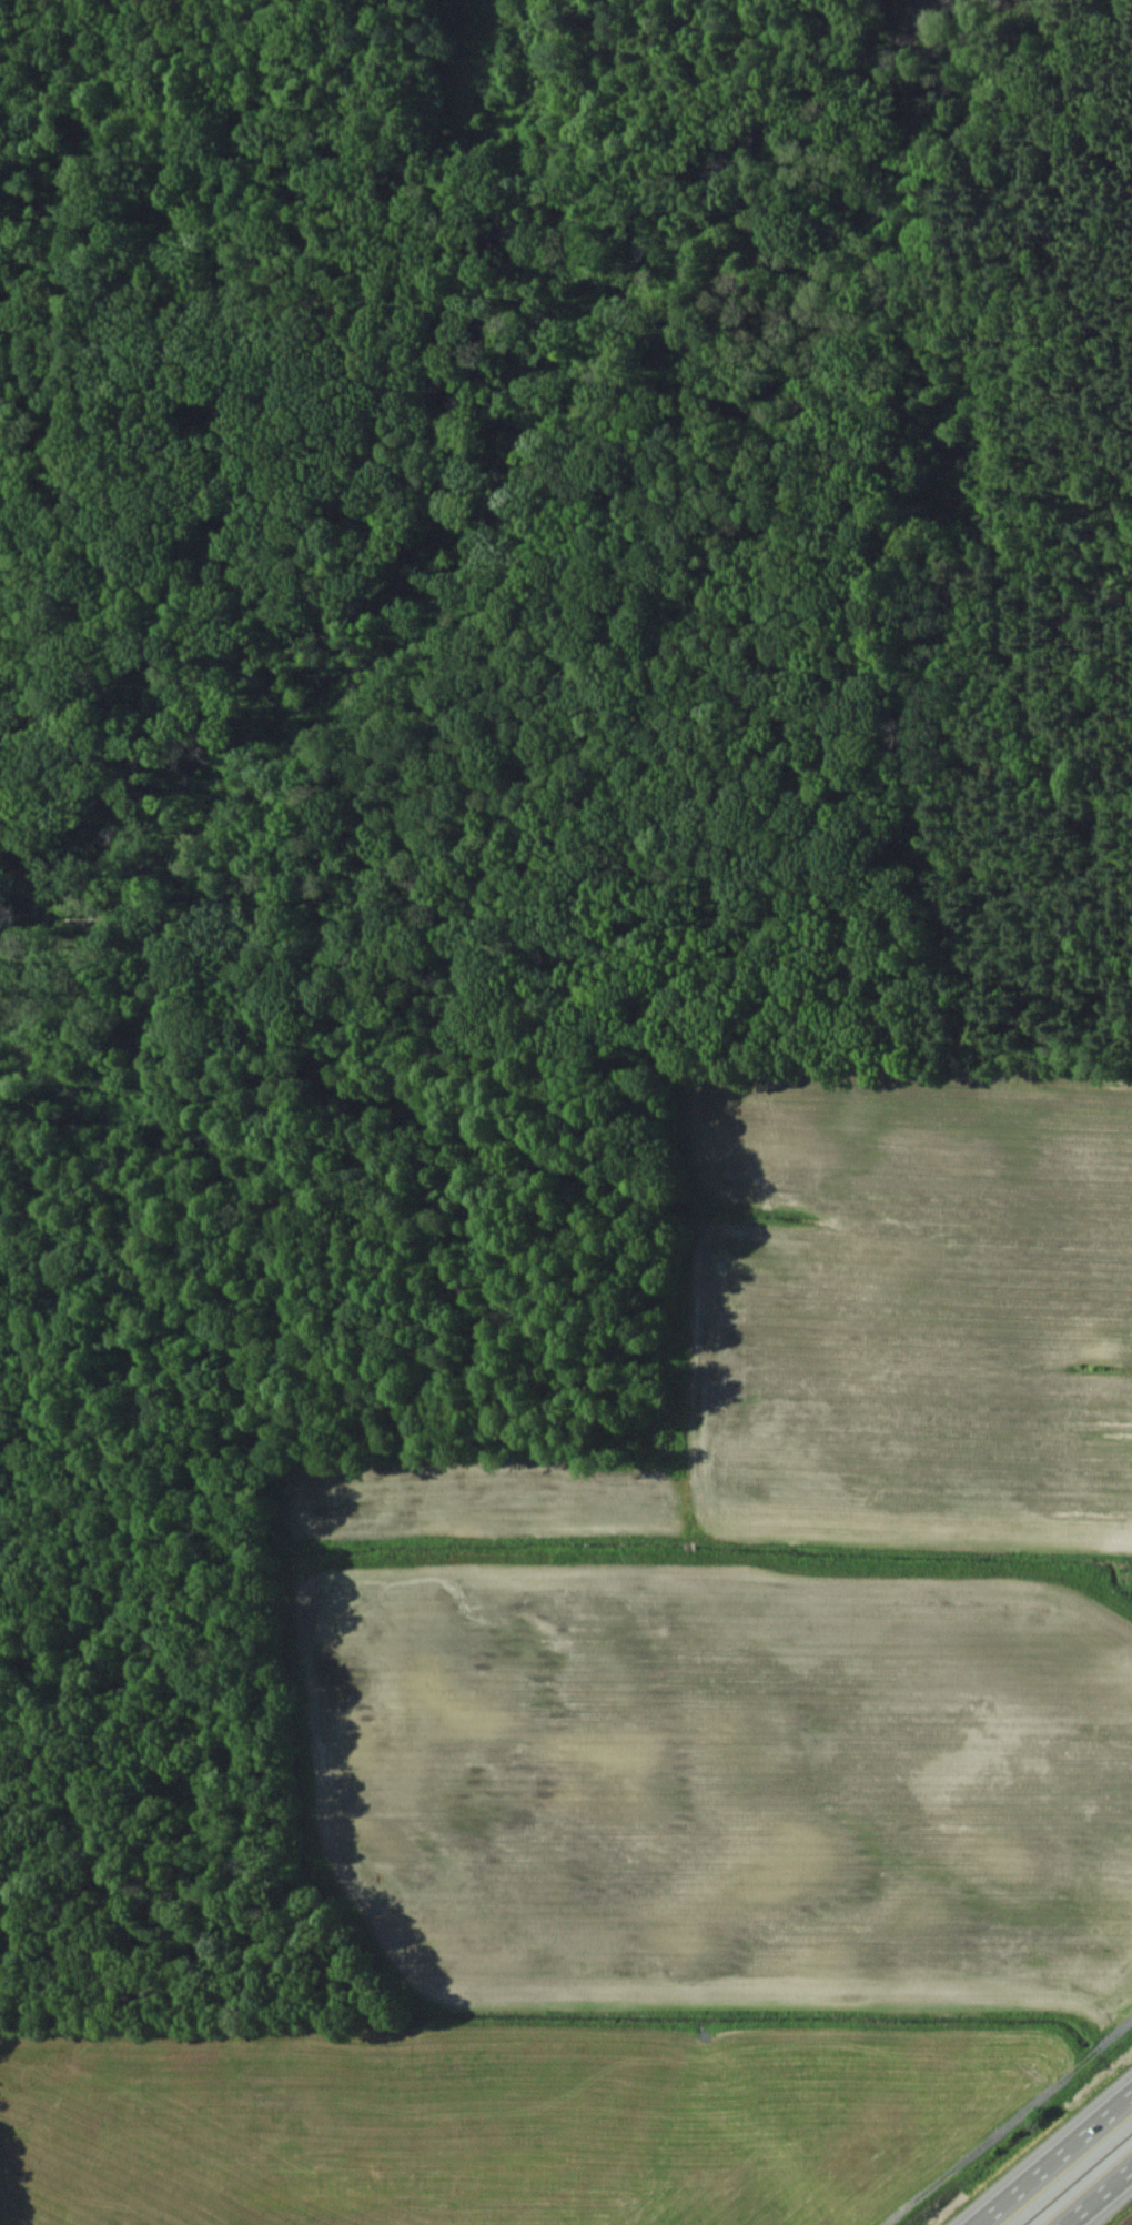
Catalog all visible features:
road: (1054, 2159)
road: (1098, 2195)

